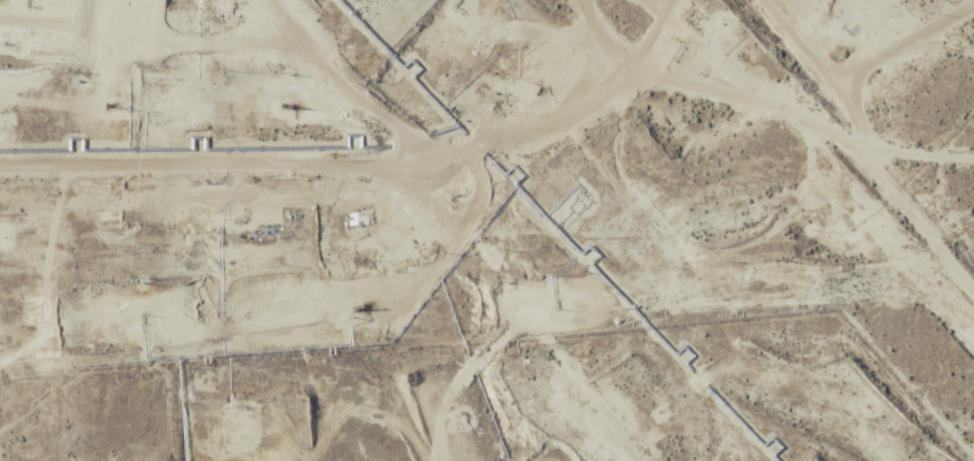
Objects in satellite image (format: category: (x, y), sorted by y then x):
road: (824, 152)

